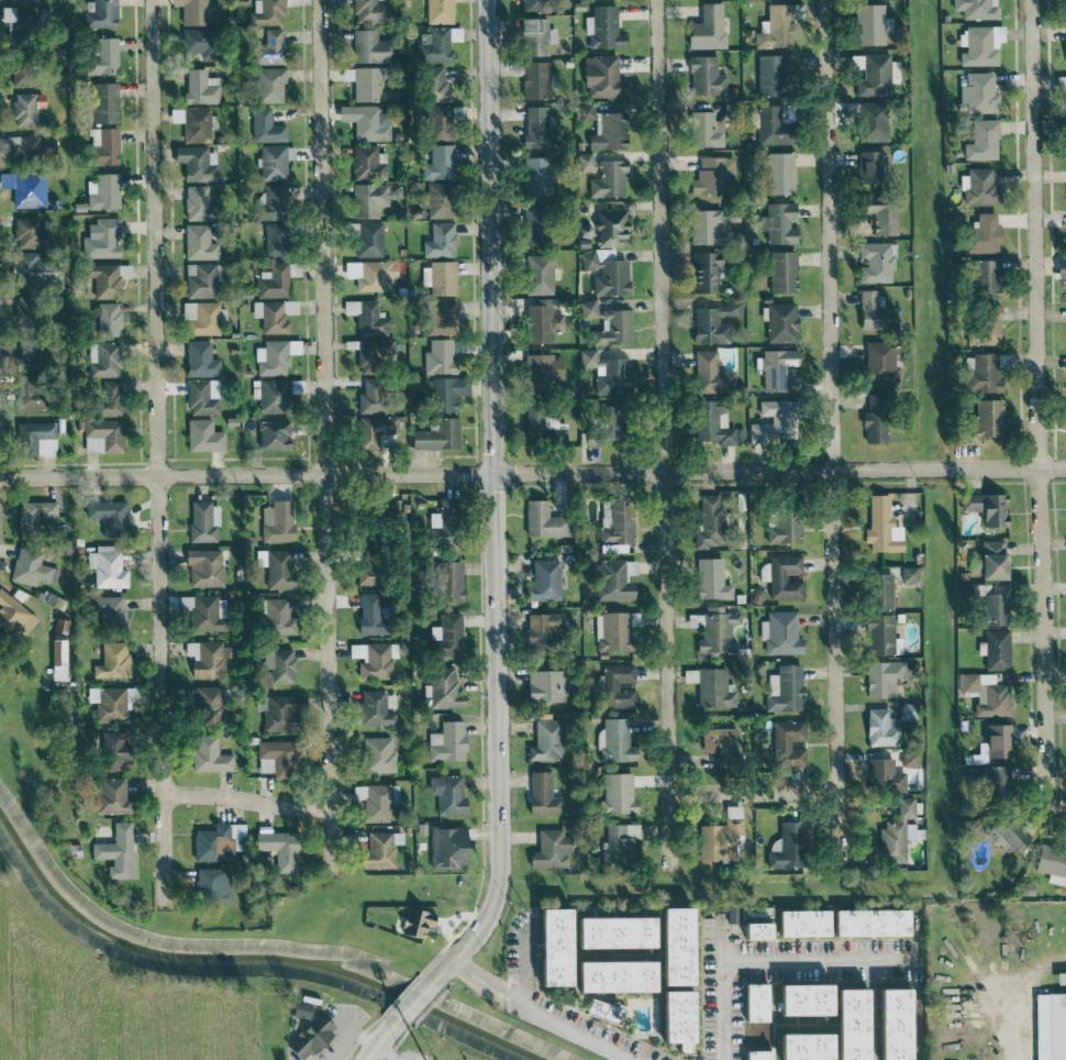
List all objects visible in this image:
building: (19, 0)
building: (532, 5)
building: (975, 8)
building: (1064, 8)
building: (368, 10)
building: (190, 11)
building: (267, 11)
building: (436, 11)
building: (98, 13)
building: (11, 21)
building: (867, 23)
building: (776, 25)
building: (601, 27)
building: (706, 27)
building: (532, 36)
building: (193, 41)
building: (435, 43)
building: (1065, 43)
building: (363, 45)
building: (266, 47)
building: (100, 57)
building: (769, 74)
building: (870, 75)
building: (600, 76)
building: (703, 76)
building: (533, 79)
building: (363, 82)
building: (432, 84)
building: (268, 85)
building: (1062, 85)
building: (200, 87)
building: (977, 92)
building: (102, 102)
building: (24, 107)
building: (868, 121)
building: (191, 122)
building: (436, 122)
building: (768, 123)
building: (368, 124)
building: (264, 126)
building: (533, 126)
building: (703, 129)
building: (607, 132)
building: (1065, 136)
building: (980, 140)
building: (27, 145)
building: (101, 145)
building: (273, 161)
building: (438, 162)
building: (193, 163)
building: (366, 163)
building: (866, 167)
building: (777, 173)
building: (602, 175)
building: (711, 175)
building: (532, 176)
building: (976, 186)
building: (26, 189)
building: (101, 191)
building: (366, 199)
building: (437, 200)
building: (269, 201)
building: (196, 202)
building: (877, 213)
building: (777, 222)
building: (707, 225)
building: (531, 228)
building: (609, 228)
building: (24, 232)
building: (980, 234)
building: (365, 238)
building: (273, 239)
building: (100, 240)
building: (437, 240)
building: (198, 241)
building: (875, 261)
building: (1059, 267)
building: (33, 270)
building: (703, 272)
building: (781, 272)
building: (604, 273)
building: (536, 274)
building: (375, 275)
building: (437, 277)
building: (104, 278)
building: (982, 278)
building: (200, 279)
building: (273, 280)
building: (348, 307)
building: (874, 312)
building: (273, 313)
building: (437, 316)
building: (200, 317)
building: (104, 318)
building: (369, 319)
building: (540, 322)
building: (712, 322)
building: (780, 322)
building: (607, 323)
building: (982, 324)
building: (371, 350)
building: (436, 356)
building: (270, 357)
building: (101, 358)
building: (199, 360)
building: (776, 368)
building: (606, 372)
building: (536, 373)
building: (978, 373)
building: (710, 374)
building: (443, 393)
building: (274, 395)
building: (26, 396)
building: (368, 396)
building: (200, 397)
building: (107, 399)
road: (1040, 407)
building: (770, 420)
building: (979, 422)
building: (708, 423)
building: (603, 427)
building: (538, 428)
building: (373, 430)
road: (832, 430)
road: (666, 433)
building: (271, 434)
building: (434, 434)
building: (100, 435)
building: (201, 435)
road: (323, 435)
building: (33, 439)
road: (155, 453)
road: (532, 473)
road: (490, 503)
building: (387, 506)
building: (985, 508)
building: (32, 515)
building: (107, 515)
building: (441, 520)
building: (202, 521)
building: (277, 521)
building: (707, 521)
building: (541, 522)
building: (613, 525)
building: (880, 527)
building: (784, 529)
building: (987, 561)
building: (106, 566)
building: (202, 566)
building: (29, 567)
building: (277, 568)
building: (365, 572)
building: (907, 574)
building: (711, 577)
building: (613, 578)
building: (447, 581)
building: (542, 581)
building: (966, 589)
building: (877, 592)
building: (182, 603)
building: (990, 610)
building: (107, 611)
building: (203, 614)
building: (368, 614)
building: (11, 615)
building: (274, 616)
building: (712, 630)
building: (610, 631)
building: (537, 632)
building: (779, 632)
building: (446, 636)
building: (879, 636)
building: (995, 649)
building: (204, 658)
building: (57, 659)
building: (370, 660)
building: (111, 662)
building: (277, 665)
building: (880, 676)
building: (966, 682)
building: (543, 685)
building: (615, 686)
building: (708, 686)
building: (441, 688)
building: (784, 688)
building: (991, 697)
building: (107, 703)
building: (206, 705)
building: (374, 708)
building: (279, 711)
building: (906, 711)
building: (877, 727)
building: (544, 740)
building: (613, 740)
building: (717, 740)
building: (446, 741)
building: (786, 743)
building: (989, 744)
building: (112, 750)
building: (208, 754)
building: (376, 754)
building: (274, 758)
building: (908, 758)
building: (882, 776)
building: (992, 782)
road: (755, 792)
building: (446, 793)
building: (615, 794)
building: (110, 795)
building: (541, 795)
road: (243, 799)
building: (375, 802)
road: (1057, 814)
building: (896, 832)
building: (1008, 833)
building: (719, 836)
building: (213, 840)
building: (617, 843)
building: (276, 847)
building: (445, 847)
building: (787, 847)
building: (378, 849)
building: (547, 849)
building: (115, 850)
building: (1051, 863)
building: (209, 884)
building: (415, 921)
building: (801, 921)
building: (868, 921)
building: (751, 929)
building: (609, 930)
building: (547, 945)
building: (670, 945)
road: (764, 959)
river: (248, 962)
road: (479, 970)
building: (609, 974)
building: (1058, 976)
road: (470, 982)
building: (800, 997)
building: (751, 1001)
road: (412, 1003)
road: (520, 1005)
building: (298, 1008)
building: (601, 1008)
road: (546, 1017)
building: (671, 1017)
building: (845, 1023)
building: (888, 1023)
road: (1011, 1025)
building: (1048, 1025)
building: (308, 1036)
road: (380, 1041)
building: (799, 1046)
road: (387, 1051)
building: (752, 1053)

